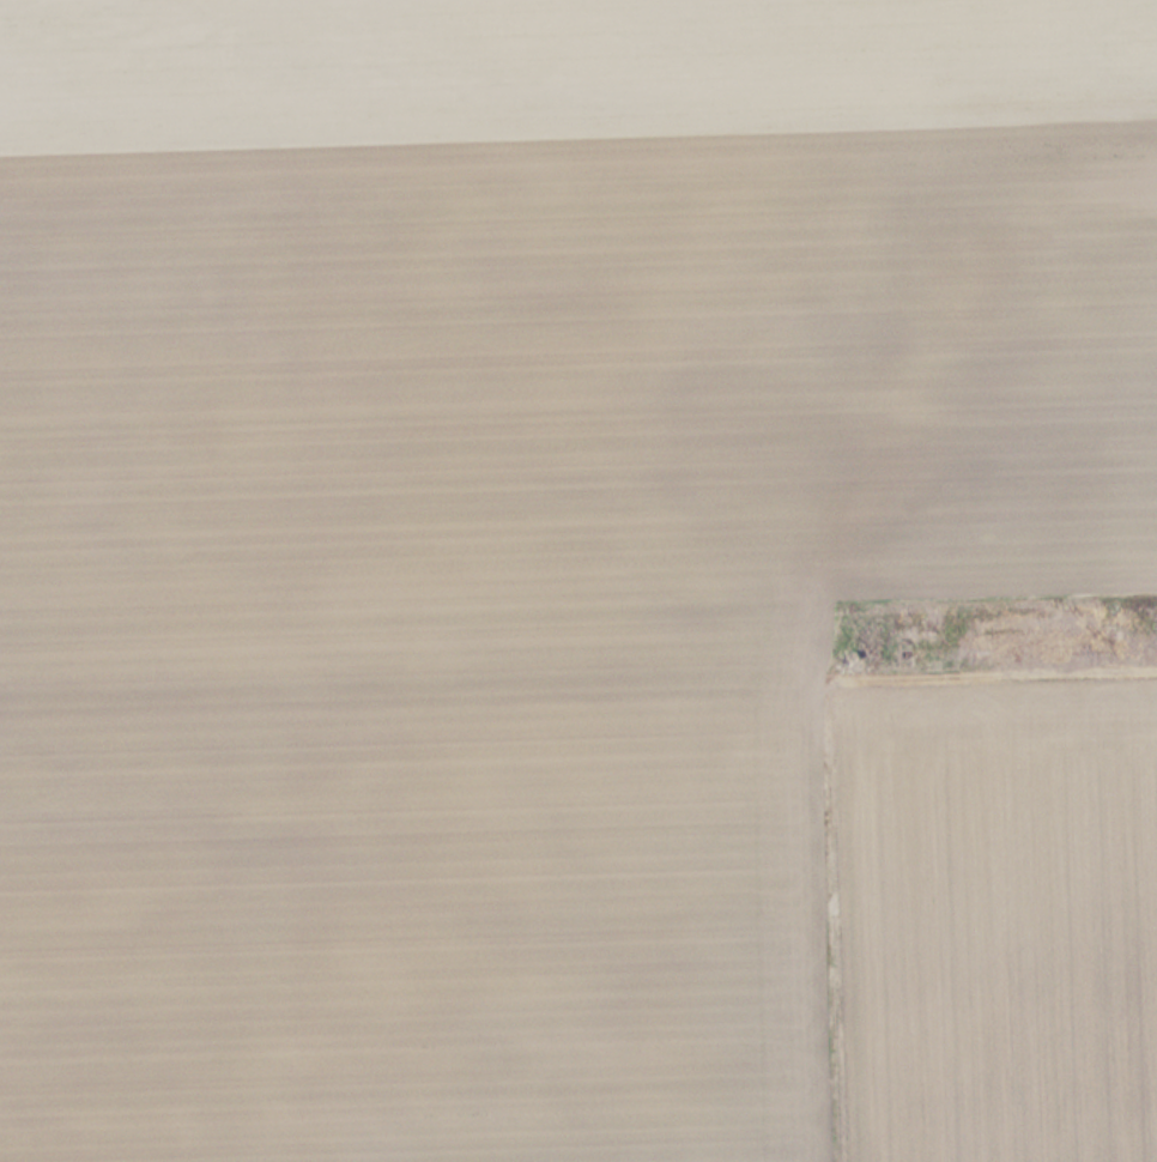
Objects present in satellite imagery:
building: (1153, 622)

